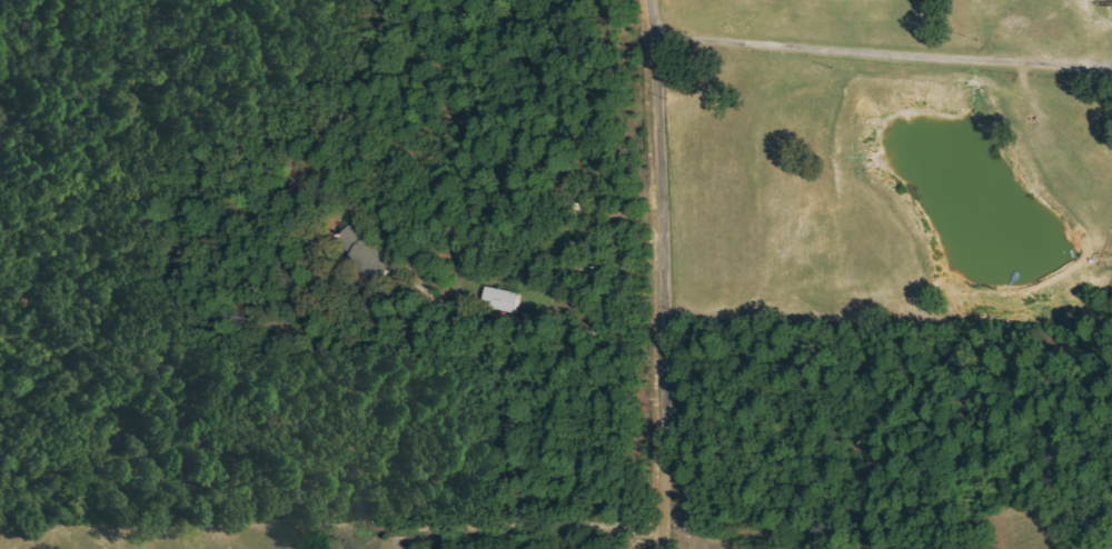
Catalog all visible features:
building: (360, 248)
road: (661, 273)
building: (496, 300)

